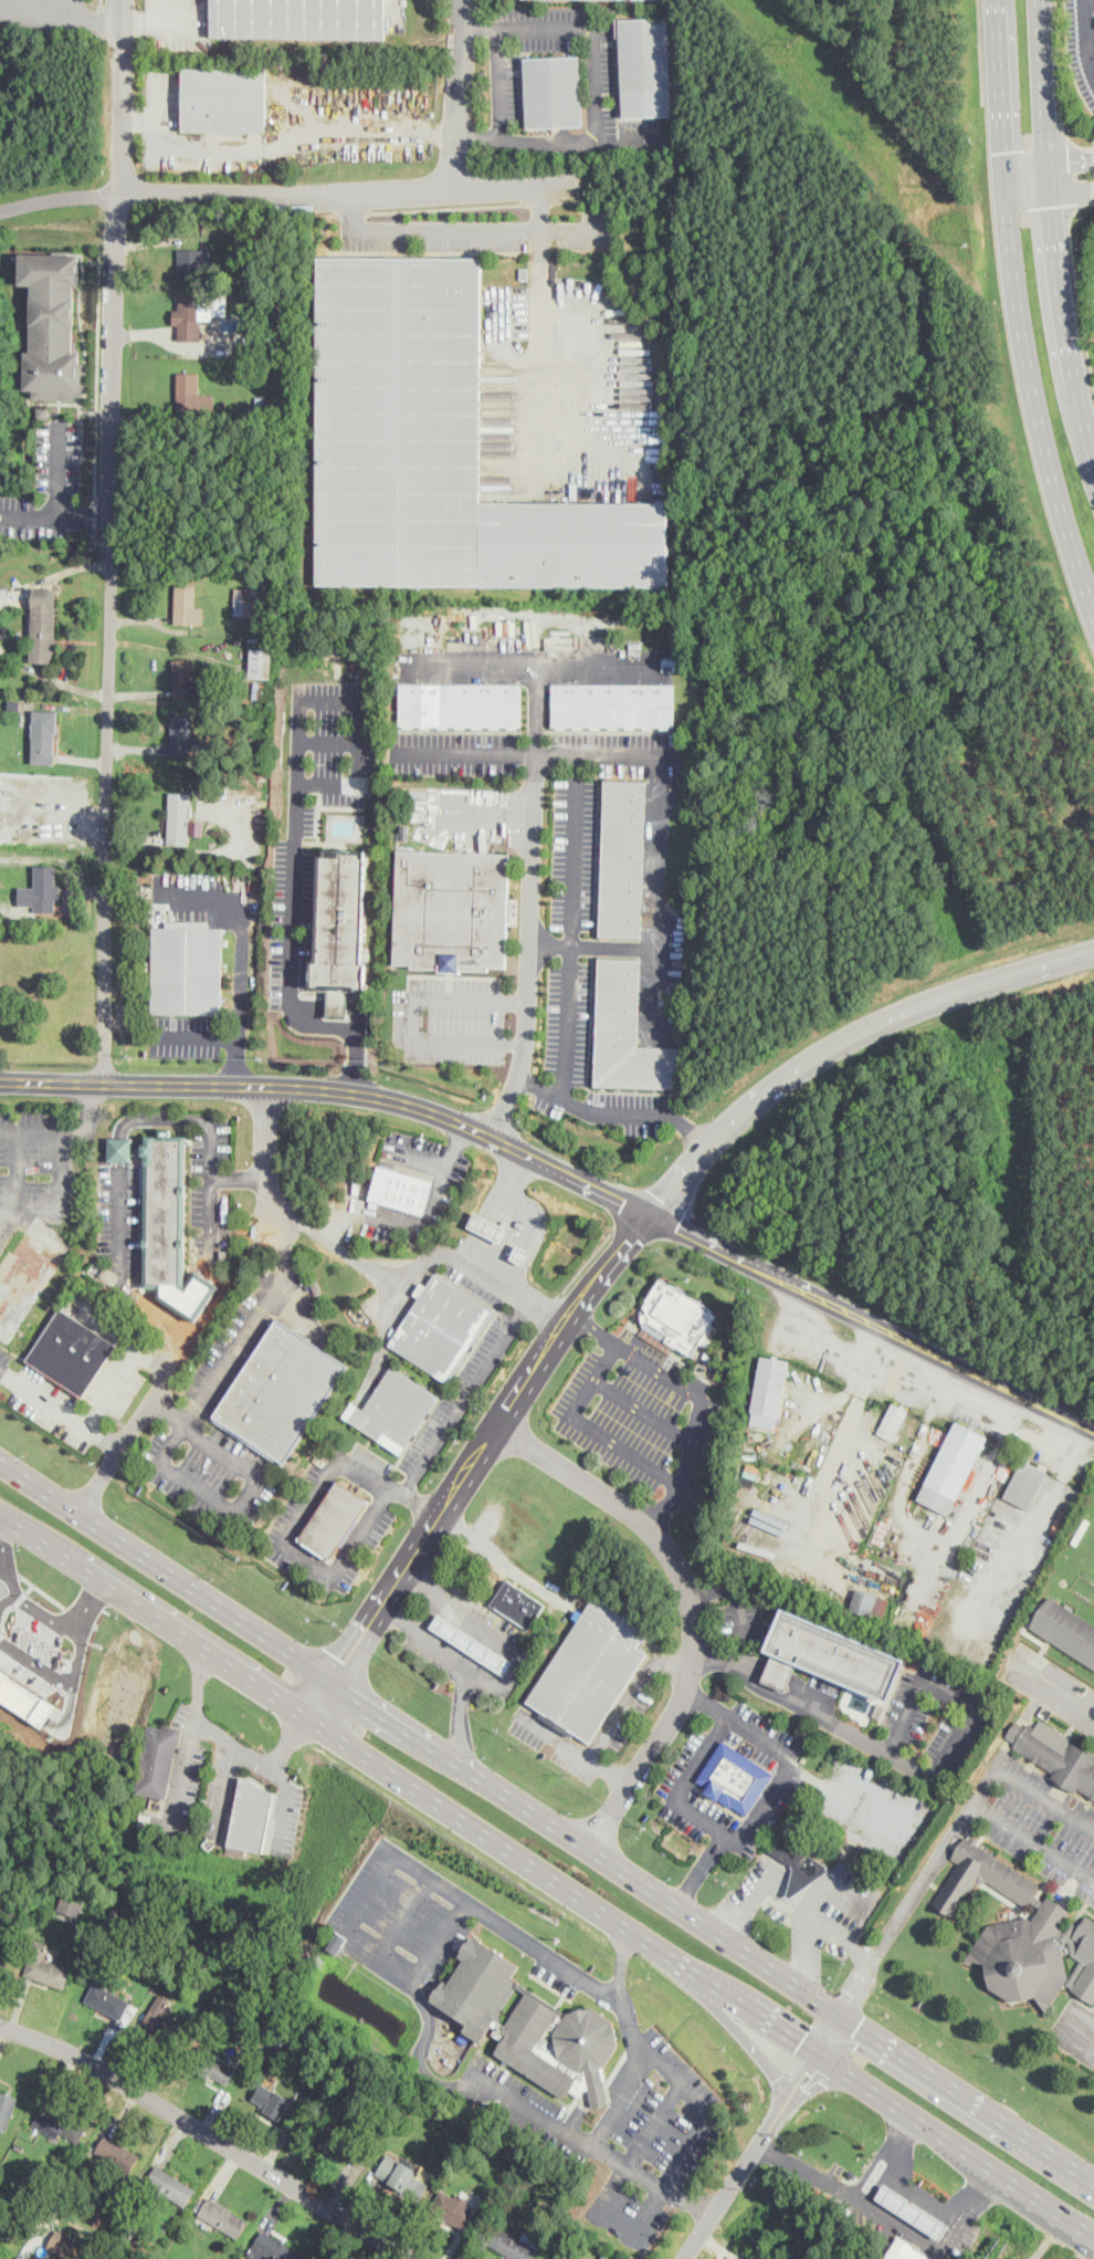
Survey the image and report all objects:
road: (1092, 0)
building: (299, 19)
road: (1087, 31)
power tower: (793, 41)
road: (980, 52)
building: (645, 66)
parking lot: (504, 73)
road: (497, 81)
road: (1059, 83)
road: (596, 84)
building: (554, 93)
road: (461, 95)
building: (224, 100)
road: (1023, 135)
road: (284, 139)
road: (622, 139)
traffic signals: (999, 151)
traffic signals: (1072, 161)
road: (1046, 165)
road: (1066, 172)
road: (390, 192)
road: (57, 197)
road: (1048, 197)
traffic signals: (1050, 205)
road: (541, 208)
road: (446, 210)
road: (353, 212)
road: (1029, 213)
building: (242, 224)
building: (232, 226)
road: (481, 231)
road: (1051, 232)
power tower: (967, 242)
building: (254, 253)
building: (193, 264)
building: (524, 273)
road: (1076, 285)
road: (1009, 305)
building: (198, 314)
building: (272, 316)
building: (52, 325)
road: (540, 338)
building: (266, 345)
road: (97, 374)
building: (192, 396)
building: (257, 411)
building: (43, 412)
building: (399, 421)
road: (59, 501)
road: (85, 520)
road: (112, 541)
building: (575, 544)
building: (254, 603)
building: (185, 605)
building: (43, 626)
building: (679, 652)
road: (534, 661)
building: (257, 663)
building: (185, 679)
building: (262, 688)
building: (242, 697)
building: (14, 703)
building: (460, 705)
building: (613, 705)
road: (535, 707)
building: (181, 735)
building: (44, 738)
road: (327, 741)
road: (530, 750)
building: (210, 766)
road: (295, 783)
building: (374, 799)
road: (487, 814)
building: (179, 819)
building: (196, 827)
building: (622, 859)
building: (149, 878)
building: (42, 891)
road: (291, 895)
building: (4, 904)
building: (452, 910)
road: (570, 924)
building: (340, 928)
road: (549, 943)
road: (527, 945)
road: (242, 960)
building: (188, 969)
road: (332, 1002)
road: (412, 1017)
road: (350, 1028)
building: (628, 1034)
road: (848, 1039)
road: (337, 1090)
road: (591, 1109)
road: (86, 1113)
road: (694, 1127)
parking lot: (35, 1165)
road: (15, 1172)
road: (122, 1172)
road: (59, 1178)
road: (269, 1182)
building: (401, 1190)
parking lot: (210, 1196)
building: (160, 1205)
road: (501, 1210)
road: (3, 1214)
parking lot: (120, 1220)
road: (420, 1221)
building: (519, 1223)
building: (488, 1227)
building: (522, 1254)
building: (225, 1257)
road: (587, 1262)
road: (420, 1265)
building: (316, 1288)
building: (677, 1317)
road: (872, 1324)
building: (440, 1328)
road: (190, 1331)
road: (597, 1331)
building: (72, 1352)
building: (709, 1358)
parking lot: (4, 1361)
road: (849, 1385)
building: (281, 1391)
building: (769, 1392)
parking lot: (76, 1400)
road: (61, 1409)
road: (169, 1410)
building: (393, 1410)
road: (645, 1413)
parking lot: (642, 1414)
building: (893, 1421)
road: (181, 1425)
road: (843, 1441)
building: (751, 1443)
road: (222, 1449)
road: (472, 1457)
building: (953, 1468)
road: (355, 1470)
road: (671, 1483)
building: (1025, 1485)
road: (418, 1505)
road: (665, 1507)
building: (1002, 1507)
building: (333, 1521)
road: (1031, 1534)
road: (922, 1536)
road: (421, 1580)
building: (796, 1586)
building: (517, 1603)
road: (690, 1603)
building: (865, 1603)
road: (739, 1608)
road: (428, 1612)
building: (578, 1613)
parking lot: (733, 1614)
road: (397, 1618)
building: (1065, 1629)
building: (471, 1643)
road: (515, 1646)
road: (440, 1649)
building: (828, 1656)
road: (673, 1661)
building: (590, 1671)
road: (197, 1680)
parking lot: (1052, 1686)
road: (1053, 1687)
road: (950, 1691)
road: (705, 1706)
road: (809, 1712)
building: (879, 1712)
parking lot: (942, 1712)
road: (463, 1716)
road: (192, 1722)
road: (291, 1739)
road: (600, 1743)
building: (1056, 1756)
building: (158, 1761)
road: (609, 1774)
building: (734, 1778)
building: (946, 1779)
road: (228, 1789)
road: (1044, 1796)
road: (281, 1806)
building: (250, 1818)
parking lot: (1034, 1821)
road: (547, 1822)
building: (788, 1828)
road: (741, 1837)
road: (1032, 1840)
building: (829, 1850)
road: (701, 1866)
building: (800, 1866)
building: (838, 1868)
road: (548, 1872)
road: (800, 1880)
building: (56, 1885)
road: (814, 1889)
road: (915, 1889)
road: (751, 1896)
building: (71, 1903)
parking lot: (402, 1910)
road: (809, 1910)
road: (404, 1913)
building: (155, 1920)
building: (1009, 1926)
road: (842, 1933)
building: (1069, 1935)
building: (336, 1942)
building: (2, 1958)
building: (1084, 1959)
road: (619, 1962)
building: (208, 1963)
building: (44, 1966)
road: (414, 1974)
building: (478, 1987)
traffic signals: (853, 1993)
building: (106, 2000)
building: (158, 2018)
road: (730, 2022)
traffic signals: (860, 2027)
parking lot: (1075, 2029)
road: (830, 2032)
traffic signals: (800, 2038)
road: (1086, 2041)
building: (530, 2043)
road: (640, 2046)
building: (581, 2048)
road: (419, 2049)
building: (212, 2065)
traffic signals: (804, 2072)
parking lot: (516, 2085)
road: (604, 2090)
building: (271, 2100)
building: (6, 2108)
building: (60, 2123)
road: (211, 2134)
road: (580, 2137)
parking lot: (651, 2137)
building: (344, 2144)
building: (117, 2152)
road: (634, 2153)
road: (751, 2154)
road: (891, 2159)
building: (400, 2176)
road: (651, 2179)
building: (170, 2185)
road: (924, 2195)
gas station: (918, 2208)
building: (454, 2209)
building: (911, 2210)
building: (222, 2216)
road: (894, 2221)
building: (513, 2242)
building: (272, 2248)
building: (905, 2250)

